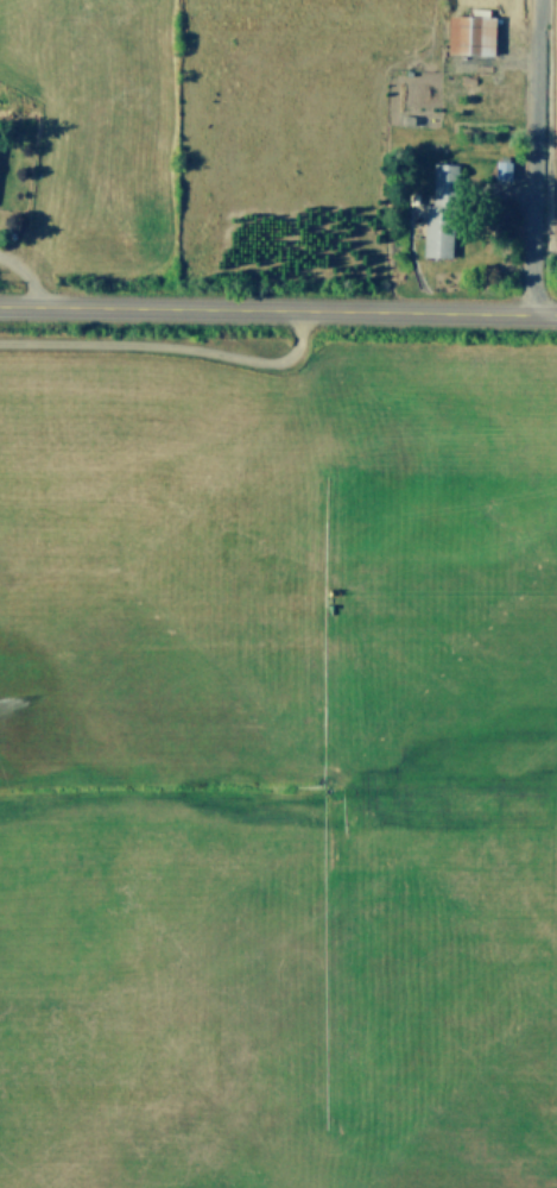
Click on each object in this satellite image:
building: (469, 34)
crop: (280, 136)
road: (532, 156)
building: (502, 169)
road: (26, 272)
road: (278, 307)
road: (173, 348)

